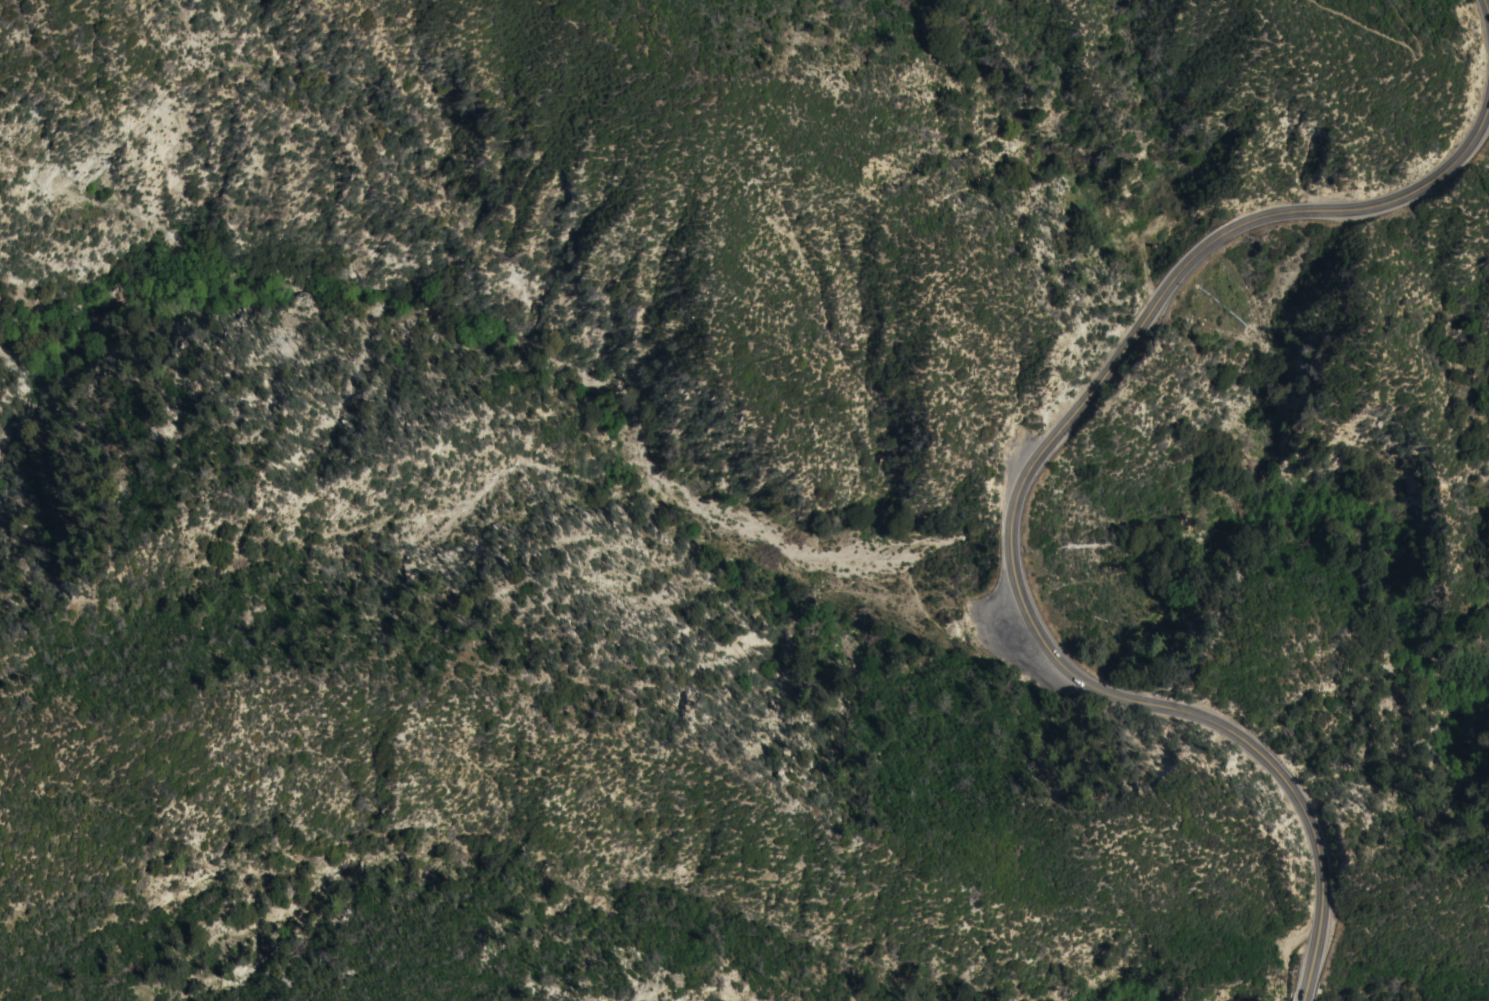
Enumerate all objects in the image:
road: (1486, 11)
road: (1396, 30)
road: (1014, 494)
road: (1299, 996)

